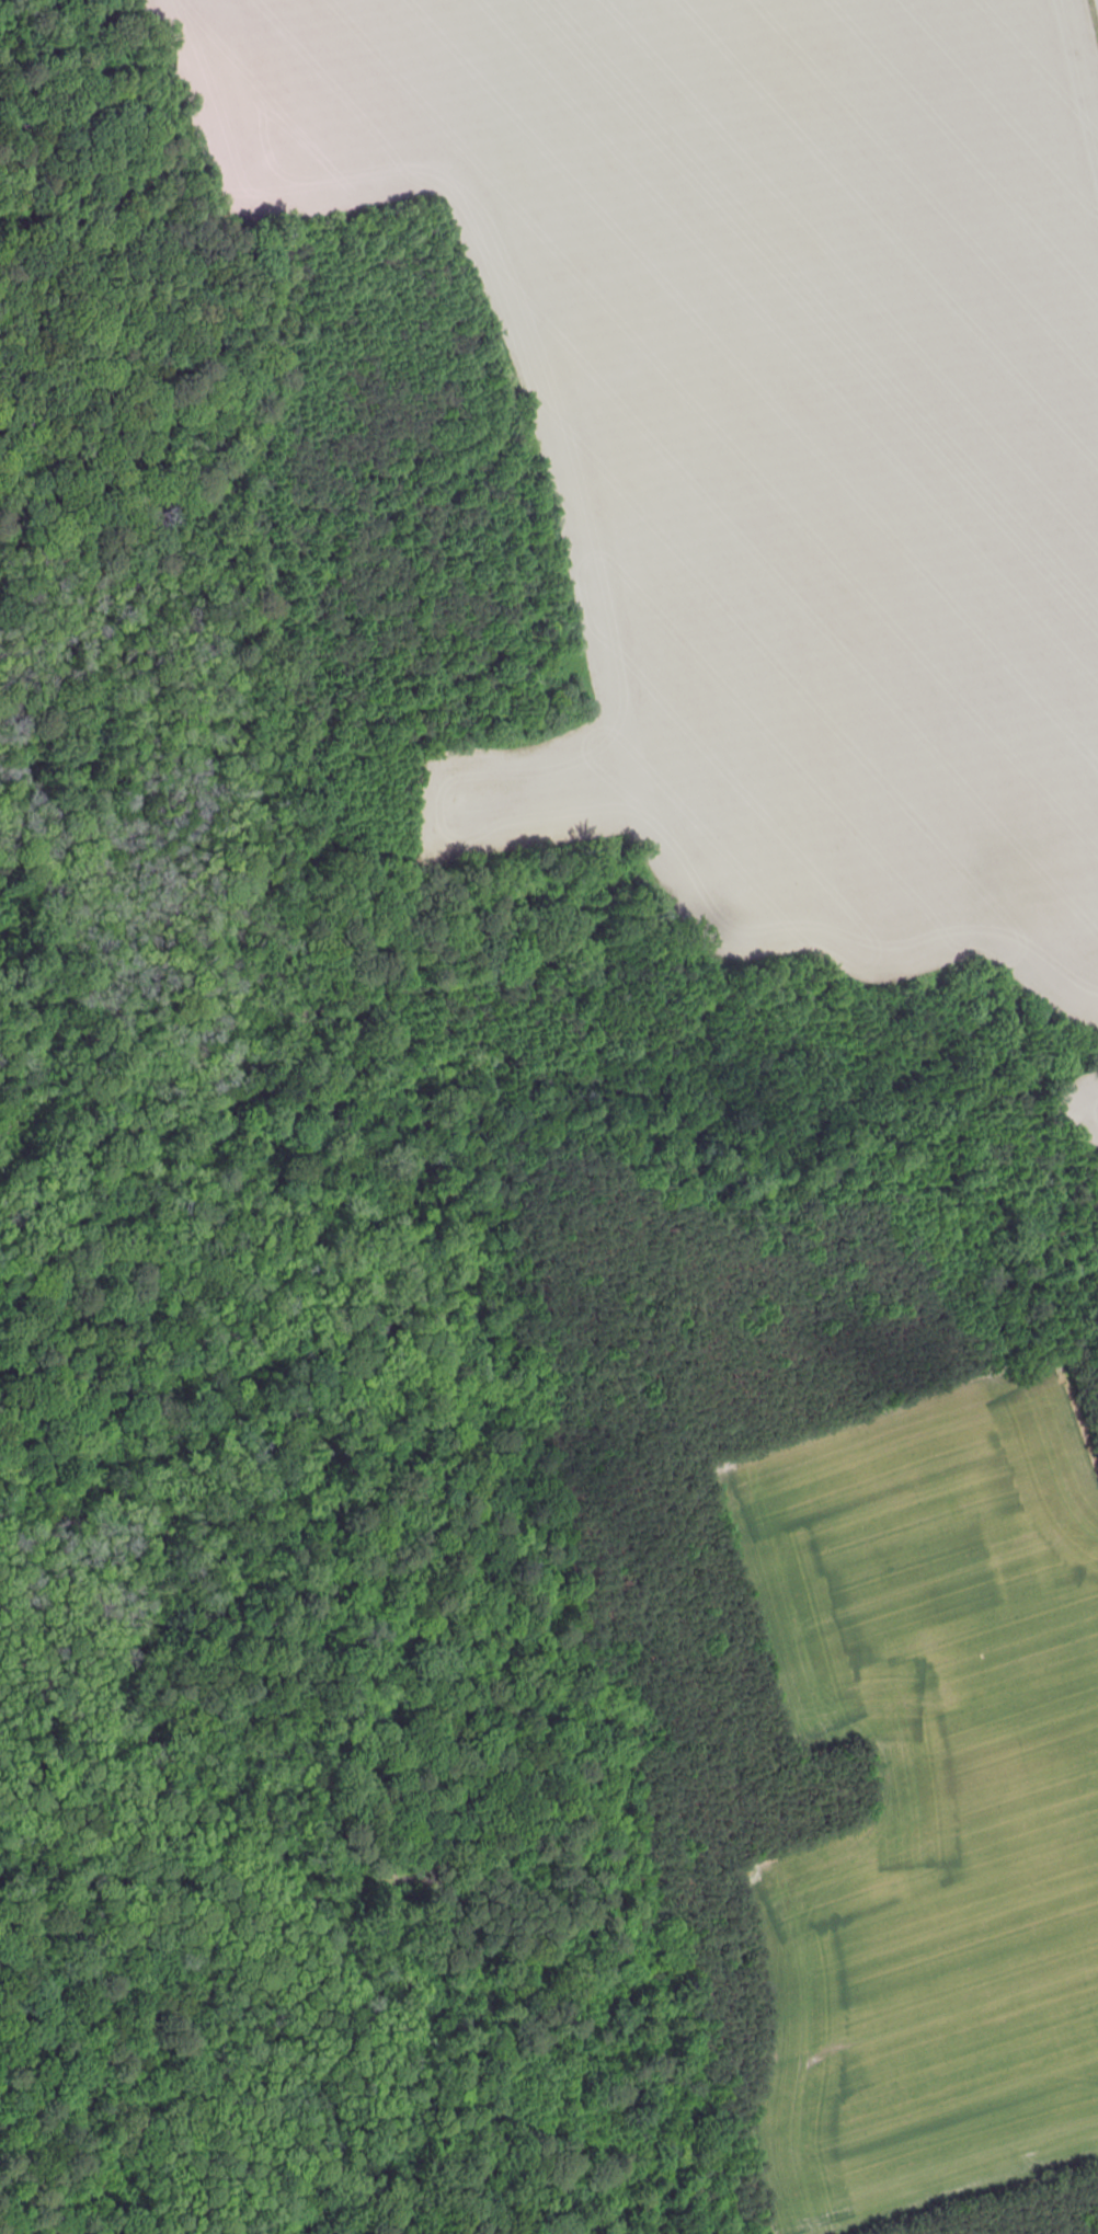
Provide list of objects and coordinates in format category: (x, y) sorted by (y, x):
park: (255, 1421)

